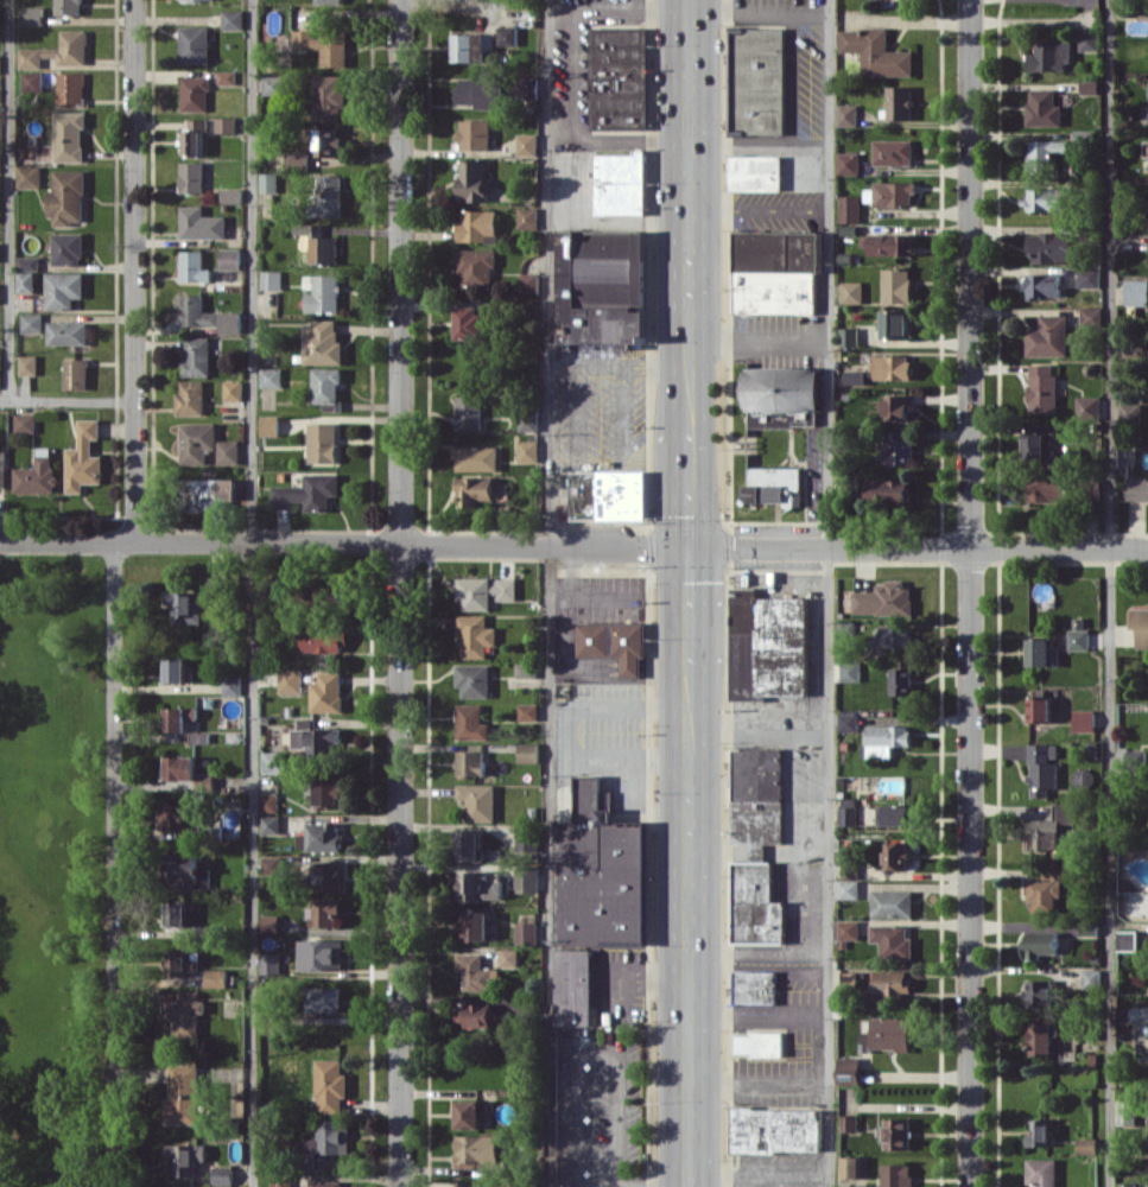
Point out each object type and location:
building: (329, 1)
building: (68, 7)
road: (760, 11)
road: (572, 12)
building: (33, 14)
building: (233, 19)
building: (508, 36)
building: (1089, 40)
building: (195, 44)
building: (324, 45)
building: (472, 46)
building: (58, 50)
building: (875, 52)
building: (1049, 55)
building: (0, 66)
building: (226, 76)
building: (619, 77)
building: (32, 81)
building: (757, 81)
building: (273, 84)
building: (1089, 87)
building: (70, 88)
building: (481, 91)
building: (195, 93)
building: (329, 97)
building: (900, 102)
building: (1042, 107)
building: (846, 114)
building: (226, 123)
building: (475, 134)
road: (632, 134)
building: (194, 135)
building: (69, 137)
road: (760, 140)
building: (328, 141)
building: (527, 144)
road: (690, 145)
building: (893, 152)
building: (1047, 154)
building: (299, 158)
building: (848, 163)
building: (0, 167)
building: (755, 172)
building: (28, 176)
building: (192, 177)
building: (472, 179)
building: (269, 182)
building: (621, 183)
building: (894, 193)
building: (231, 195)
building: (329, 196)
building: (68, 197)
building: (1046, 198)
road: (9, 199)
building: (849, 208)
building: (528, 218)
building: (201, 223)
building: (477, 224)
building: (319, 242)
building: (889, 243)
building: (1049, 247)
building: (68, 248)
building: (230, 258)
building: (28, 262)
building: (194, 266)
building: (476, 267)
road: (135, 269)
building: (776, 271)
building: (1089, 277)
building: (272, 279)
building: (26, 281)
building: (529, 283)
building: (896, 285)
building: (1044, 285)
building: (603, 286)
building: (0, 288)
building: (63, 288)
building: (852, 291)
building: (1136, 292)
building: (324, 293)
building: (197, 311)
building: (1090, 316)
building: (32, 322)
building: (231, 322)
building: (470, 322)
building: (898, 323)
building: (68, 332)
building: (849, 336)
building: (1048, 336)
road: (761, 341)
building: (322, 342)
building: (197, 357)
road: (691, 361)
building: (28, 364)
building: (893, 366)
building: (76, 373)
building: (271, 376)
building: (855, 376)
building: (328, 387)
building: (1042, 387)
building: (782, 388)
building: (233, 389)
building: (191, 398)
road: (68, 400)
building: (898, 406)
building: (470, 411)
building: (1130, 412)
building: (782, 418)
building: (528, 421)
building: (25, 423)
building: (269, 425)
building: (323, 442)
building: (1039, 443)
building: (207, 444)
building: (895, 446)
building: (527, 450)
building: (83, 457)
building: (477, 457)
building: (2, 469)
building: (36, 474)
building: (773, 484)
building: (1047, 488)
building: (1136, 488)
building: (475, 489)
road: (691, 489)
building: (888, 491)
building: (307, 493)
building: (210, 494)
building: (608, 494)
road: (573, 545)
traffic signals: (692, 547)
building: (216, 585)
building: (484, 591)
road: (252, 592)
road: (400, 592)
road: (551, 592)
road: (827, 592)
road: (970, 592)
road: (1110, 593)
building: (883, 598)
building: (185, 607)
road: (691, 608)
building: (1140, 626)
building: (475, 635)
building: (1078, 635)
building: (892, 636)
building: (319, 640)
building: (613, 643)
building: (768, 646)
building: (1042, 652)
building: (176, 669)
building: (525, 669)
building: (850, 671)
building: (291, 680)
building: (474, 680)
building: (901, 680)
building: (231, 685)
building: (328, 692)
building: (1039, 709)
building: (527, 711)
building: (179, 717)
building: (848, 719)
building: (1084, 719)
building: (471, 722)
road: (759, 724)
building: (886, 738)
building: (317, 741)
building: (528, 753)
road: (691, 753)
building: (274, 761)
building: (471, 762)
building: (1042, 768)
building: (188, 770)
building: (328, 791)
building: (756, 799)
building: (477, 800)
building: (269, 801)
building: (848, 811)
building: (893, 814)
building: (178, 815)
building: (271, 824)
building: (1048, 827)
building: (323, 836)
building: (525, 838)
building: (469, 845)
building: (895, 855)
road: (114, 864)
building: (272, 864)
building: (189, 869)
building: (849, 869)
park: (52, 870)
building: (600, 872)
building: (328, 875)
building: (527, 881)
building: (481, 884)
building: (848, 888)
building: (1047, 888)
building: (892, 903)
building: (756, 904)
building: (325, 910)
building: (176, 914)
building: (271, 922)
building: (474, 923)
building: (849, 929)
building: (526, 931)
building: (1127, 939)
building: (893, 940)
building: (1040, 942)
road: (759, 952)
building: (321, 954)
building: (508, 957)
building: (180, 963)
building: (271, 963)
building: (476, 971)
building: (216, 977)
building: (1091, 978)
building: (890, 983)
building: (573, 986)
building: (754, 986)
building: (1039, 992)
building: (325, 998)
road: (690, 1011)
building: (185, 1014)
building: (476, 1014)
building: (890, 1033)
building: (1040, 1039)
building: (760, 1043)
building: (849, 1069)
building: (330, 1086)
building: (183, 1094)
road: (578, 1100)
building: (1125, 1111)
building: (471, 1112)
road: (616, 1121)
building: (848, 1122)
building: (774, 1130)
building: (895, 1132)
building: (1039, 1132)
building: (328, 1140)
building: (1087, 1145)
building: (478, 1148)
building: (185, 1157)
building: (854, 1167)
building: (1041, 1172)
building: (222, 1174)
building: (896, 1174)
building: (281, 1180)
building: (1127, 1185)
building: (481, 1186)
road: (617, 1186)

